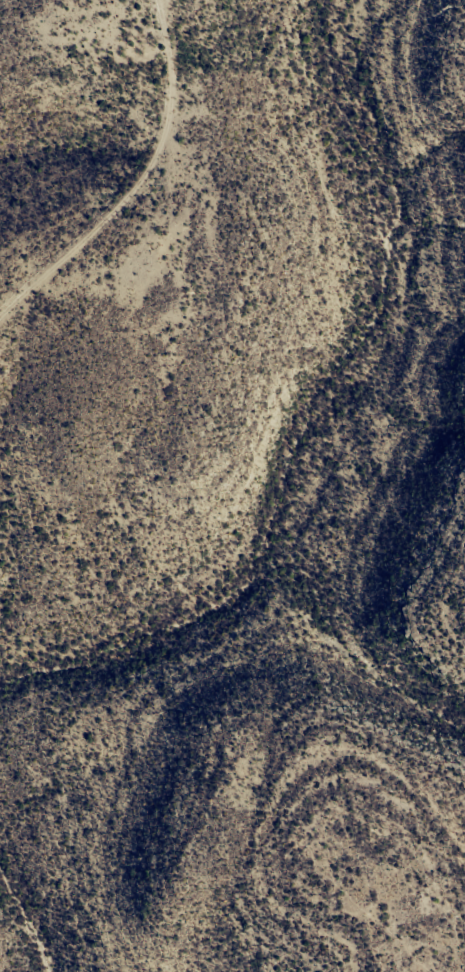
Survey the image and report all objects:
road: (135, 208)

